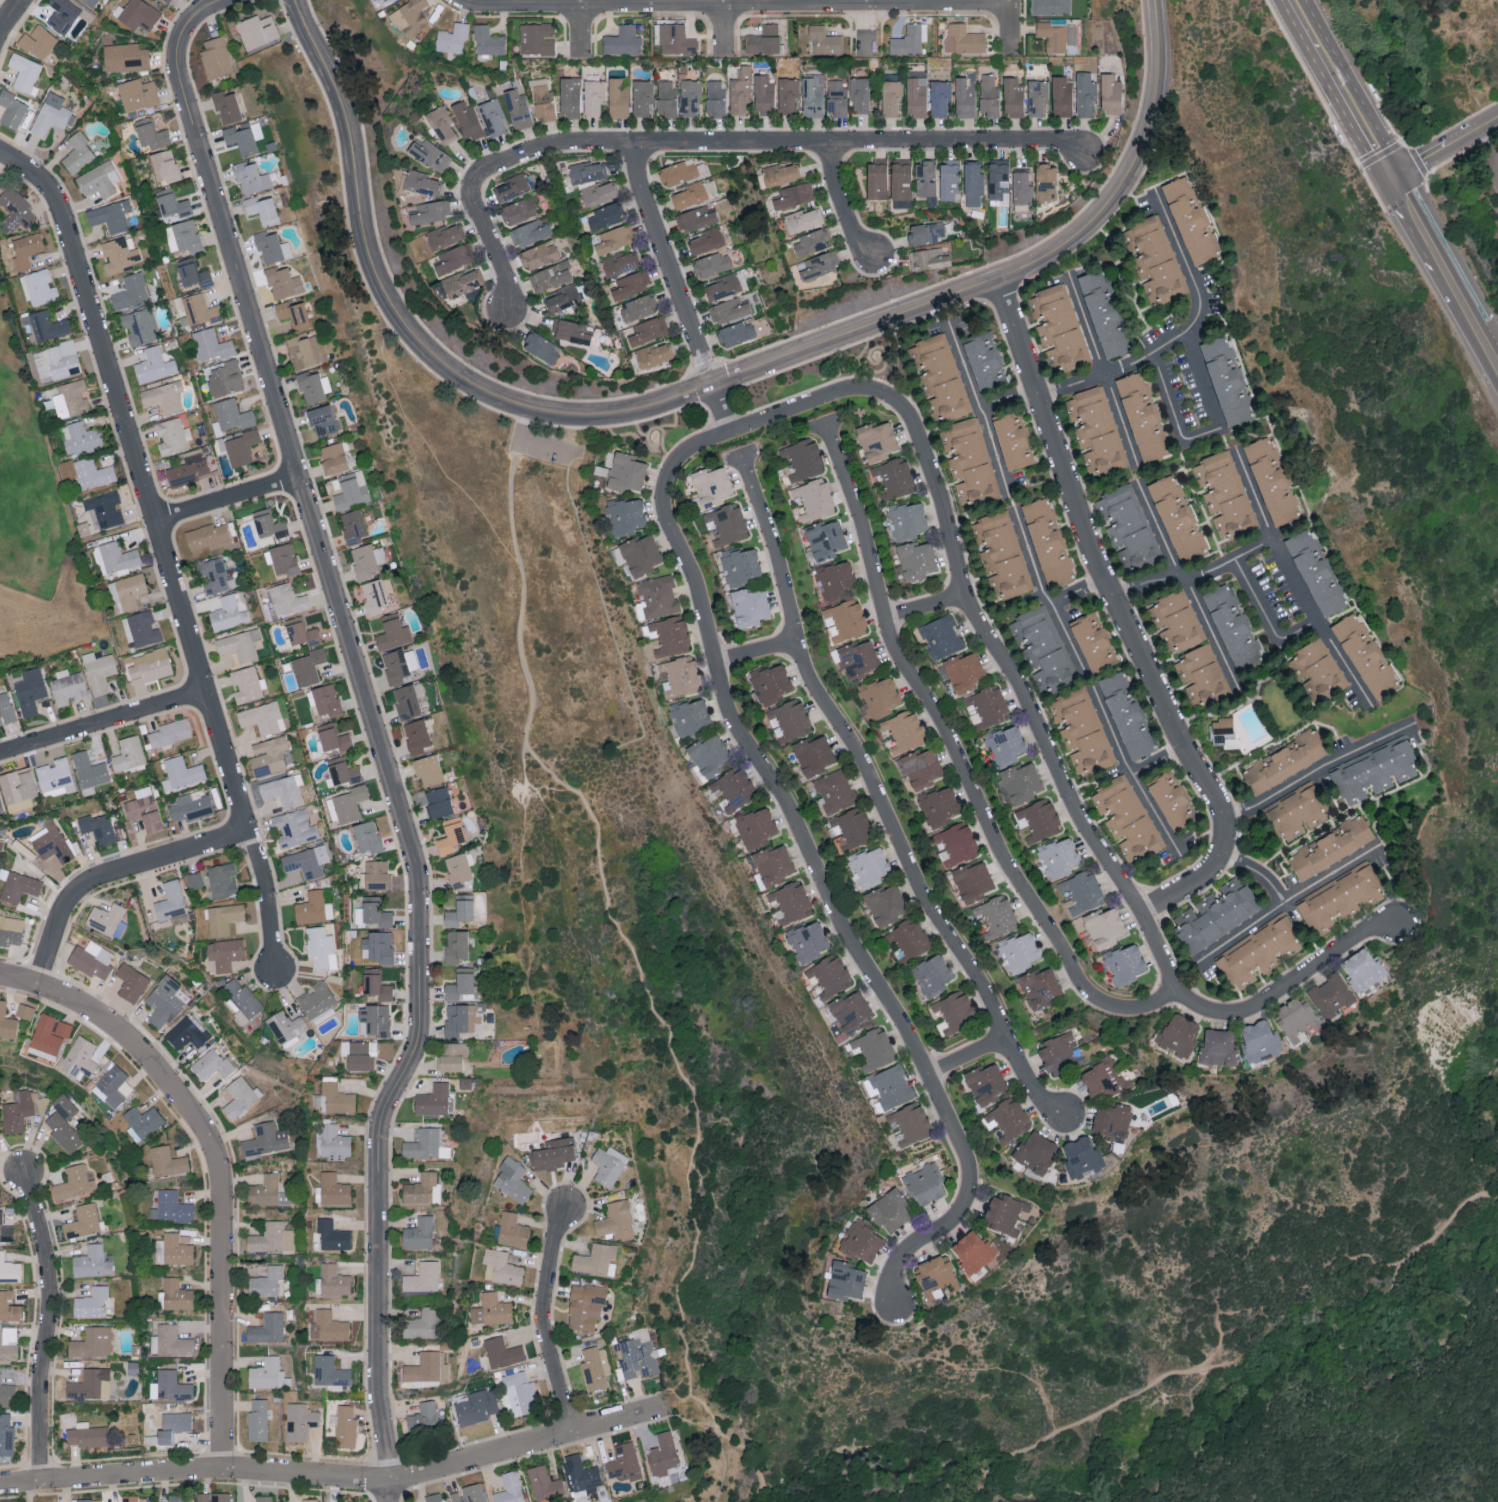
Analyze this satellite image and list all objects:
building: (167, 0)
building: (385, 0)
building: (84, 1)
road: (737, 4)
building: (1050, 7)
building: (63, 14)
building: (139, 14)
building: (410, 16)
road: (10, 17)
road: (727, 26)
road: (869, 27)
road: (1014, 27)
road: (585, 28)
building: (256, 30)
building: (1057, 34)
building: (452, 37)
building: (536, 38)
building: (674, 38)
building: (963, 38)
building: (763, 39)
building: (824, 39)
building: (910, 39)
building: (488, 40)
building: (622, 40)
building: (37, 41)
building: (125, 57)
building: (216, 57)
road: (1158, 60)
building: (24, 71)
road: (1342, 87)
building: (740, 89)
building: (1110, 91)
building: (137, 93)
building: (763, 93)
building: (916, 93)
building: (594, 94)
building: (788, 94)
building: (860, 94)
building: (989, 94)
building: (1085, 94)
building: (813, 95)
building: (965, 95)
building: (570, 96)
building: (619, 96)
building: (1013, 96)
building: (1061, 96)
building: (642, 97)
building: (690, 97)
building: (715, 97)
building: (836, 97)
building: (1037, 97)
building: (666, 98)
building: (891, 98)
building: (940, 98)
building: (543, 101)
building: (226, 106)
building: (517, 108)
building: (11, 109)
building: (50, 116)
building: (493, 117)
building: (466, 118)
building: (441, 123)
road: (1450, 126)
building: (151, 134)
building: (243, 136)
road: (780, 143)
road: (1446, 145)
road: (1487, 145)
building: (77, 152)
road: (1461, 153)
building: (430, 154)
road: (1380, 155)
road: (1418, 161)
building: (164, 165)
building: (586, 171)
building: (677, 172)
building: (781, 174)
traffic signals: (1395, 174)
building: (250, 177)
building: (925, 177)
building: (998, 177)
building: (876, 178)
building: (973, 178)
building: (98, 179)
building: (900, 179)
building: (949, 179)
building: (1046, 181)
building: (422, 182)
building: (511, 187)
building: (1021, 187)
building: (599, 192)
building: (689, 195)
building: (794, 195)
road: (844, 200)
road: (1407, 200)
building: (173, 204)
building: (15, 209)
building: (262, 209)
building: (520, 209)
building: (430, 211)
building: (110, 215)
building: (604, 216)
building: (695, 218)
building: (804, 219)
road: (1097, 219)
building: (1191, 219)
building: (530, 232)
building: (925, 232)
building: (182, 235)
building: (444, 235)
building: (613, 238)
building: (706, 240)
building: (811, 242)
road: (491, 243)
building: (271, 247)
building: (26, 249)
building: (120, 253)
building: (539, 254)
building: (454, 257)
building: (928, 258)
building: (1157, 260)
road: (1440, 262)
building: (621, 263)
building: (712, 263)
building: (819, 264)
building: (192, 273)
building: (551, 276)
building: (283, 282)
building: (462, 282)
building: (631, 285)
building: (722, 286)
building: (39, 287)
road: (678, 289)
building: (131, 290)
building: (562, 299)
building: (639, 307)
building: (198, 308)
building: (729, 310)
building: (1103, 313)
building: (294, 314)
building: (45, 325)
building: (140, 325)
building: (1059, 327)
building: (648, 330)
building: (572, 331)
road: (1181, 332)
building: (736, 333)
road: (1479, 333)
building: (211, 344)
building: (542, 347)
building: (305, 351)
building: (654, 354)
building: (57, 360)
building: (985, 360)
building: (154, 365)
road: (1101, 371)
building: (940, 377)
building: (224, 378)
building: (1227, 380)
building: (314, 386)
building: (163, 396)
road: (1006, 397)
building: (69, 399)
road: (527, 405)
road: (810, 407)
road: (979, 408)
building: (231, 414)
building: (1143, 416)
road: (1266, 418)
building: (323, 419)
building: (1098, 431)
road: (1210, 434)
road: (1247, 434)
building: (172, 436)
building: (82, 438)
building: (1013, 440)
building: (877, 441)
road: (1226, 443)
road: (432, 444)
road: (525, 445)
building: (241, 447)
parking lot: (545, 449)
building: (334, 457)
building: (803, 458)
building: (971, 461)
building: (188, 470)
building: (626, 471)
building: (93, 473)
building: (894, 477)
building: (1272, 481)
building: (711, 486)
building: (350, 490)
park: (30, 494)
building: (1225, 494)
building: (814, 498)
road: (1194, 499)
road: (229, 500)
building: (104, 508)
building: (626, 515)
building: (1177, 517)
building: (907, 521)
building: (727, 523)
building: (268, 524)
building: (353, 525)
park: (36, 527)
road: (1289, 529)
building: (206, 536)
building: (825, 539)
building: (1048, 541)
road: (164, 547)
building: (1002, 554)
building: (641, 555)
building: (118, 557)
building: (283, 559)
building: (367, 560)
building: (916, 560)
building: (740, 566)
building: (1316, 574)
building: (213, 575)
road: (1192, 575)
building: (835, 580)
road: (1293, 582)
road: (1186, 587)
building: (127, 591)
road: (1077, 592)
building: (376, 594)
building: (658, 596)
road: (1045, 596)
building: (286, 598)
building: (750, 606)
road: (926, 609)
building: (227, 613)
road: (1265, 616)
road: (1123, 618)
building: (847, 620)
building: (1177, 620)
building: (1234, 628)
building: (141, 629)
building: (301, 632)
building: (393, 633)
building: (670, 635)
building: (941, 637)
building: (1093, 642)
building: (240, 645)
building: (1043, 649)
road: (759, 652)
building: (1366, 656)
building: (856, 659)
building: (399, 664)
building: (150, 666)
building: (308, 666)
building: (99, 670)
building: (1317, 670)
building: (965, 671)
building: (680, 675)
building: (1202, 676)
building: (771, 683)
building: (246, 684)
building: (67, 686)
building: (29, 690)
building: (880, 697)
building: (326, 700)
building: (406, 701)
building: (6, 709)
park: (557, 716)
building: (691, 716)
building: (1127, 716)
building: (263, 718)
building: (789, 720)
road: (104, 725)
road: (376, 729)
building: (904, 731)
building: (1082, 731)
building: (1221, 731)
building: (170, 732)
building: (331, 736)
building: (416, 736)
building: (1006, 745)
building: (128, 753)
road: (859, 754)
building: (709, 755)
building: (814, 755)
building: (268, 756)
road: (958, 759)
road: (1157, 760)
building: (1286, 761)
building: (920, 769)
building: (342, 770)
building: (428, 770)
building: (1374, 770)
building: (89, 772)
road: (1317, 772)
building: (181, 773)
road: (1131, 774)
building: (55, 777)
building: (1022, 782)
building: (735, 788)
building: (18, 789)
building: (834, 791)
road: (786, 800)
building: (1171, 801)
building: (438, 802)
building: (347, 804)
building: (191, 806)
building: (1, 807)
building: (939, 807)
building: (143, 808)
building: (1296, 812)
road: (1077, 813)
building: (1039, 819)
building: (1127, 819)
building: (98, 827)
building: (756, 827)
building: (294, 828)
building: (850, 829)
building: (450, 835)
building: (367, 836)
building: (51, 842)
building: (959, 842)
building: (1330, 847)
building: (1059, 857)
building: (307, 861)
road: (520, 863)
building: (774, 865)
building: (869, 867)
building: (458, 870)
road: (1257, 872)
road: (114, 874)
building: (376, 875)
building: (194, 880)
building: (222, 880)
building: (973, 882)
building: (18, 886)
building: (1083, 892)
building: (1338, 898)
building: (170, 901)
road: (1285, 901)
building: (791, 902)
building: (885, 905)
building: (313, 908)
building: (460, 911)
building: (373, 912)
building: (1216, 914)
building: (997, 915)
building: (105, 918)
building: (222, 918)
road: (608, 918)
building: (1105, 927)
building: (119, 929)
building: (11, 930)
building: (808, 941)
building: (908, 941)
building: (456, 946)
building: (320, 947)
building: (377, 947)
building: (1019, 951)
building: (1258, 951)
building: (225, 953)
building: (91, 959)
building: (1125, 964)
building: (1363, 969)
building: (932, 975)
building: (830, 976)
road: (19, 981)
building: (130, 982)
building: (375, 984)
building: (460, 984)
building: (1040, 988)
building: (1332, 995)
building: (242, 999)
building: (316, 999)
building: (165, 1001)
building: (25, 1011)
building: (852, 1012)
building: (954, 1013)
building: (374, 1019)
building: (1296, 1019)
building: (7, 1023)
building: (286, 1026)
building: (188, 1033)
building: (1179, 1035)
building: (48, 1036)
building: (1260, 1041)
building: (1218, 1048)
building: (874, 1049)
building: (1060, 1053)
building: (359, 1055)
building: (452, 1056)
building: (78, 1058)
road: (968, 1058)
building: (211, 1064)
building: (1103, 1079)
road: (1032, 1082)
building: (985, 1084)
building: (111, 1086)
building: (892, 1086)
building: (239, 1097)
building: (334, 1099)
building: (432, 1100)
building: (21, 1110)
building: (1008, 1120)
building: (1113, 1121)
building: (142, 1122)
building: (910, 1123)
building: (63, 1124)
building: (265, 1139)
building: (333, 1142)
building: (423, 1144)
building: (1035, 1153)
building: (553, 1154)
building: (1082, 1156)
building: (168, 1161)
building: (608, 1165)
building: (512, 1179)
building: (74, 1183)
building: (924, 1183)
road: (222, 1187)
building: (420, 1188)
building: (264, 1190)
building: (333, 1190)
building: (171, 1207)
building: (890, 1211)
building: (1005, 1214)
building: (616, 1221)
building: (82, 1222)
building: (5, 1230)
building: (512, 1230)
building: (419, 1234)
building: (329, 1236)
building: (271, 1238)
road: (926, 1240)
building: (862, 1241)
building: (173, 1250)
building: (973, 1252)
building: (597, 1260)
building: (92, 1262)
building: (501, 1267)
building: (9, 1270)
building: (423, 1277)
building: (937, 1278)
building: (333, 1281)
building: (846, 1281)
building: (266, 1282)
building: (176, 1295)
building: (91, 1303)
building: (585, 1306)
building: (9, 1308)
building: (491, 1310)
road: (547, 1322)
building: (422, 1324)
road: (46, 1326)
building: (328, 1327)
building: (267, 1329)
building: (170, 1341)
building: (93, 1343)
building: (502, 1352)
road: (1244, 1355)
building: (638, 1357)
building: (427, 1368)
building: (595, 1368)
building: (329, 1372)
building: (0, 1375)
building: (268, 1375)
building: (87, 1384)
building: (171, 1386)
road: (666, 1389)
building: (518, 1392)
building: (7, 1394)
building: (477, 1407)
building: (423, 1418)
building: (257, 1420)
building: (300, 1422)
building: (172, 1425)
building: (345, 1426)
building: (87, 1434)
building: (6, 1435)
road: (732, 1443)
building: (663, 1453)
building: (624, 1460)
building: (580, 1473)
road: (335, 1481)
building: (544, 1482)
building: (510, 1488)
building: (468, 1493)
building: (177, 1497)
building: (212, 1497)
building: (434, 1497)
building: (129, 1498)
building: (264, 1498)
building: (84, 1499)
building: (309, 1500)
building: (345, 1501)

